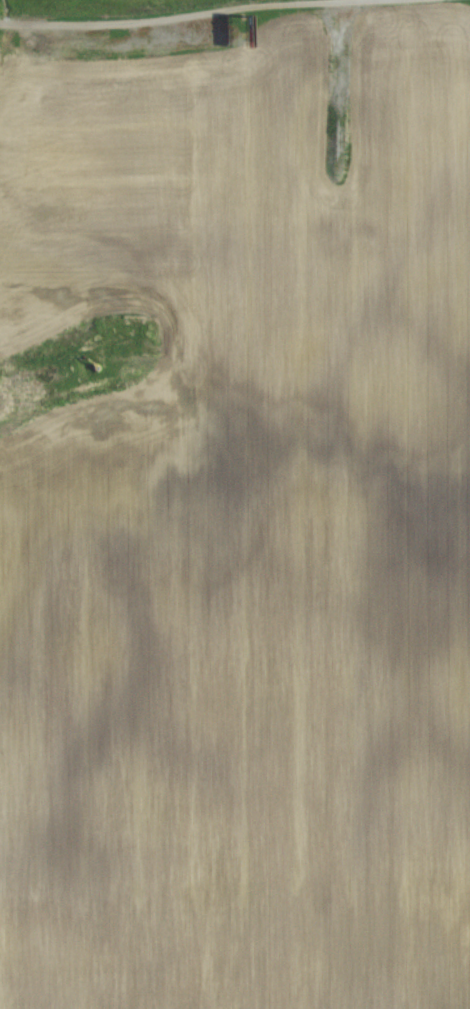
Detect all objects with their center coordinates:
road: (177, 14)

